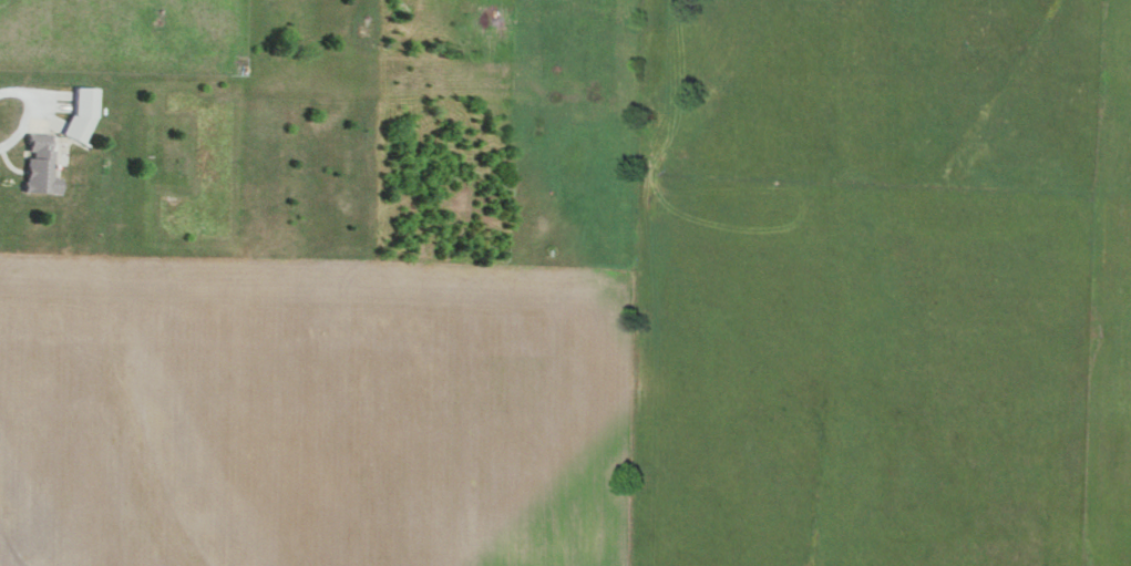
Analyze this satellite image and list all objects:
road: (28, 112)
building: (81, 112)
building: (40, 165)

